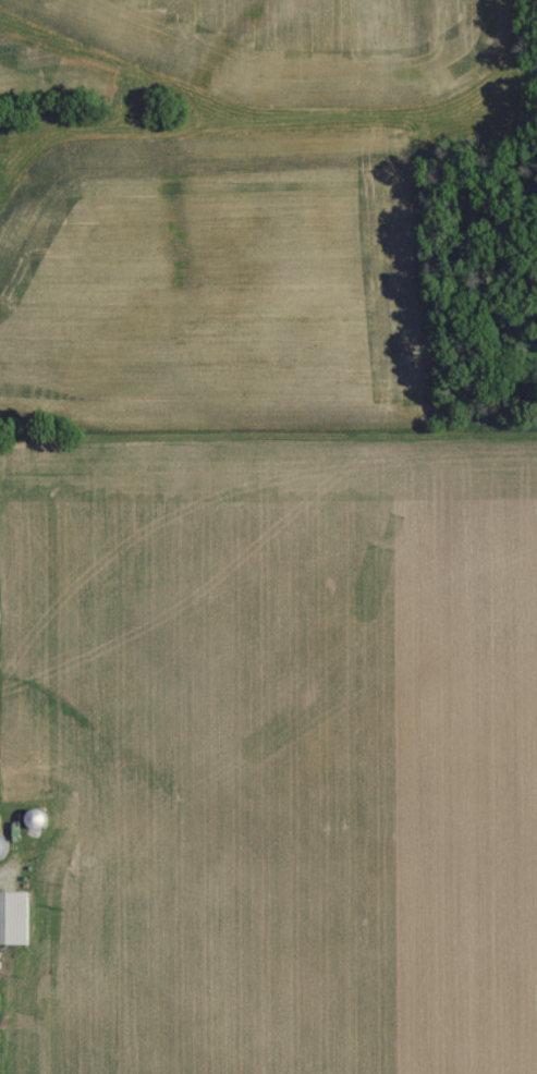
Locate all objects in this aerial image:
road: (322, 159)
building: (2, 822)
building: (16, 916)

